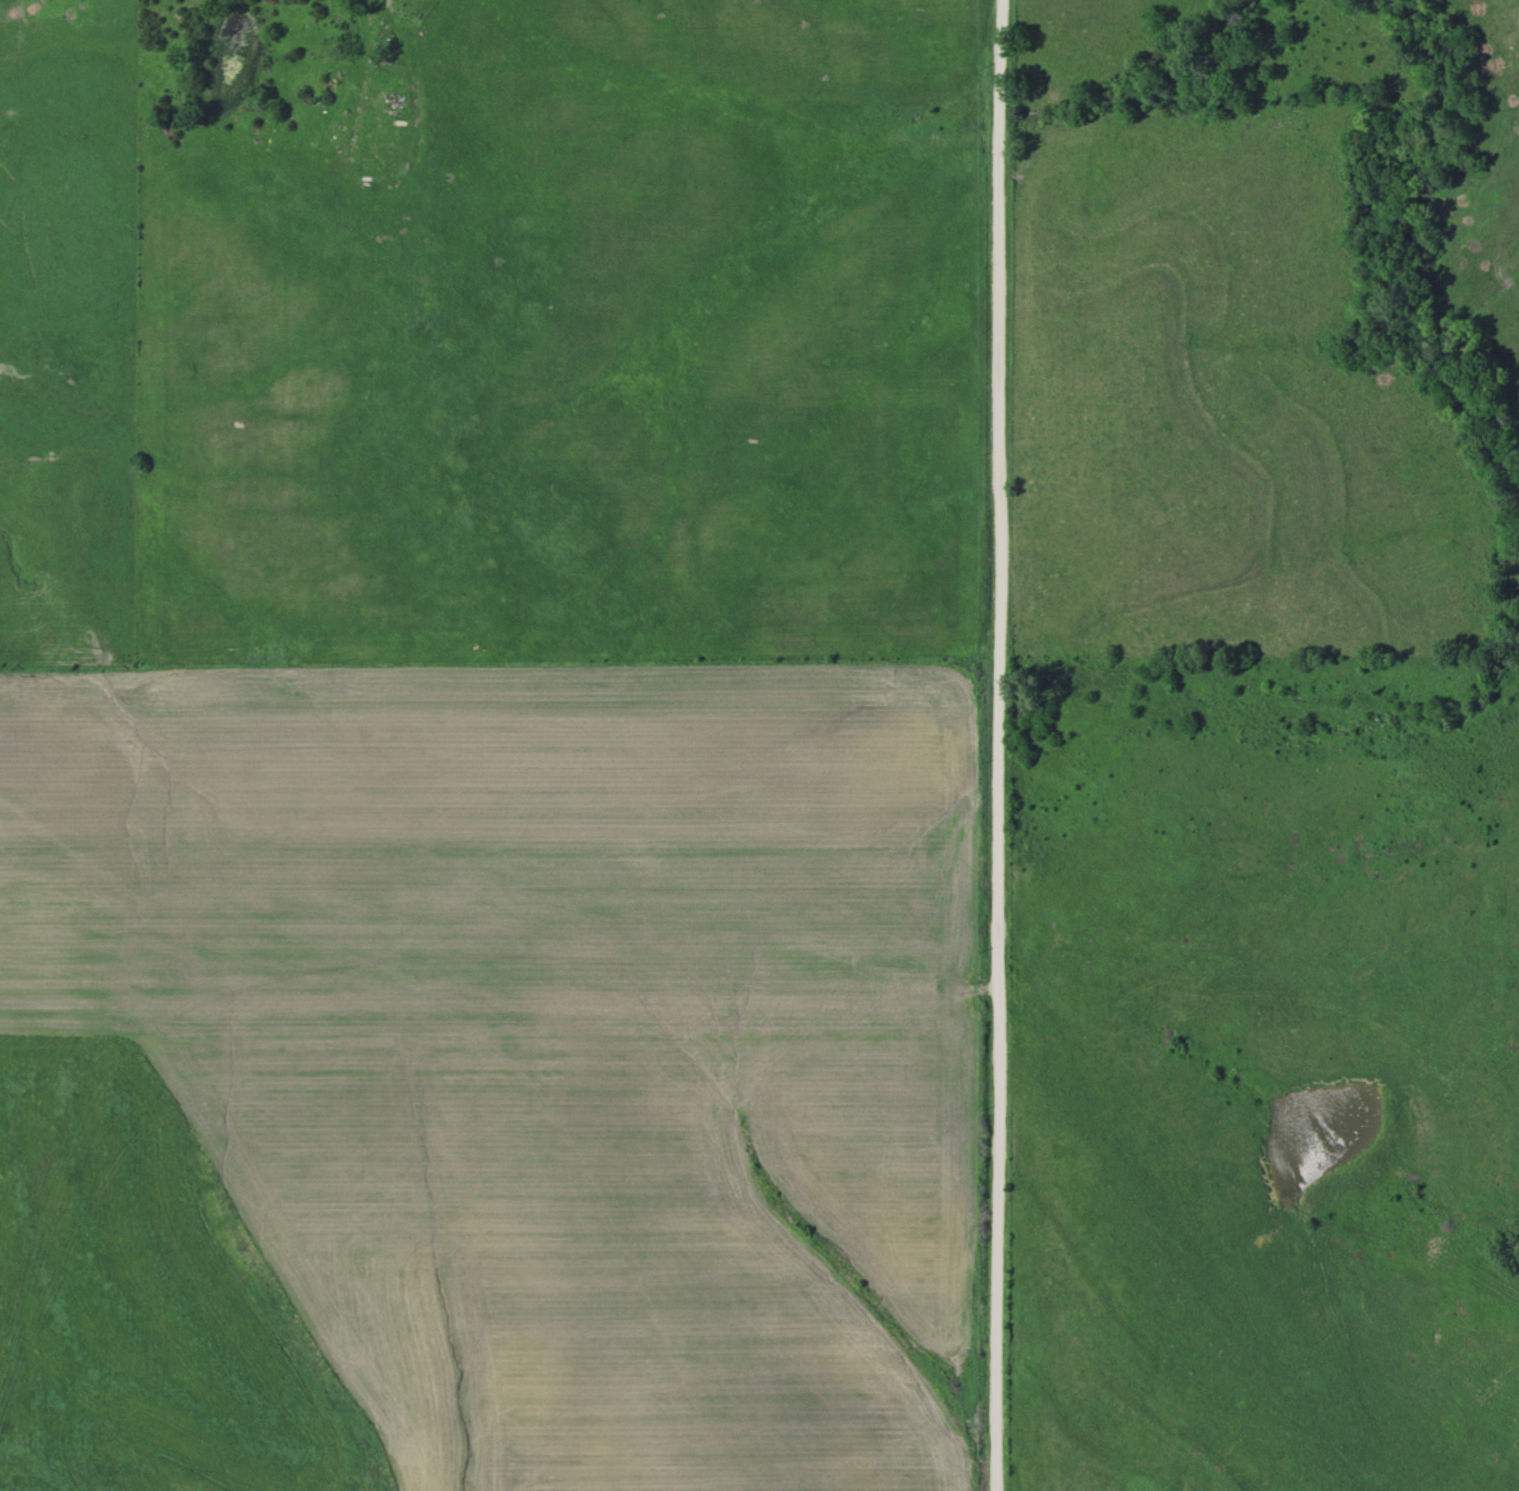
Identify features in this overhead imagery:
road: (1002, 745)

